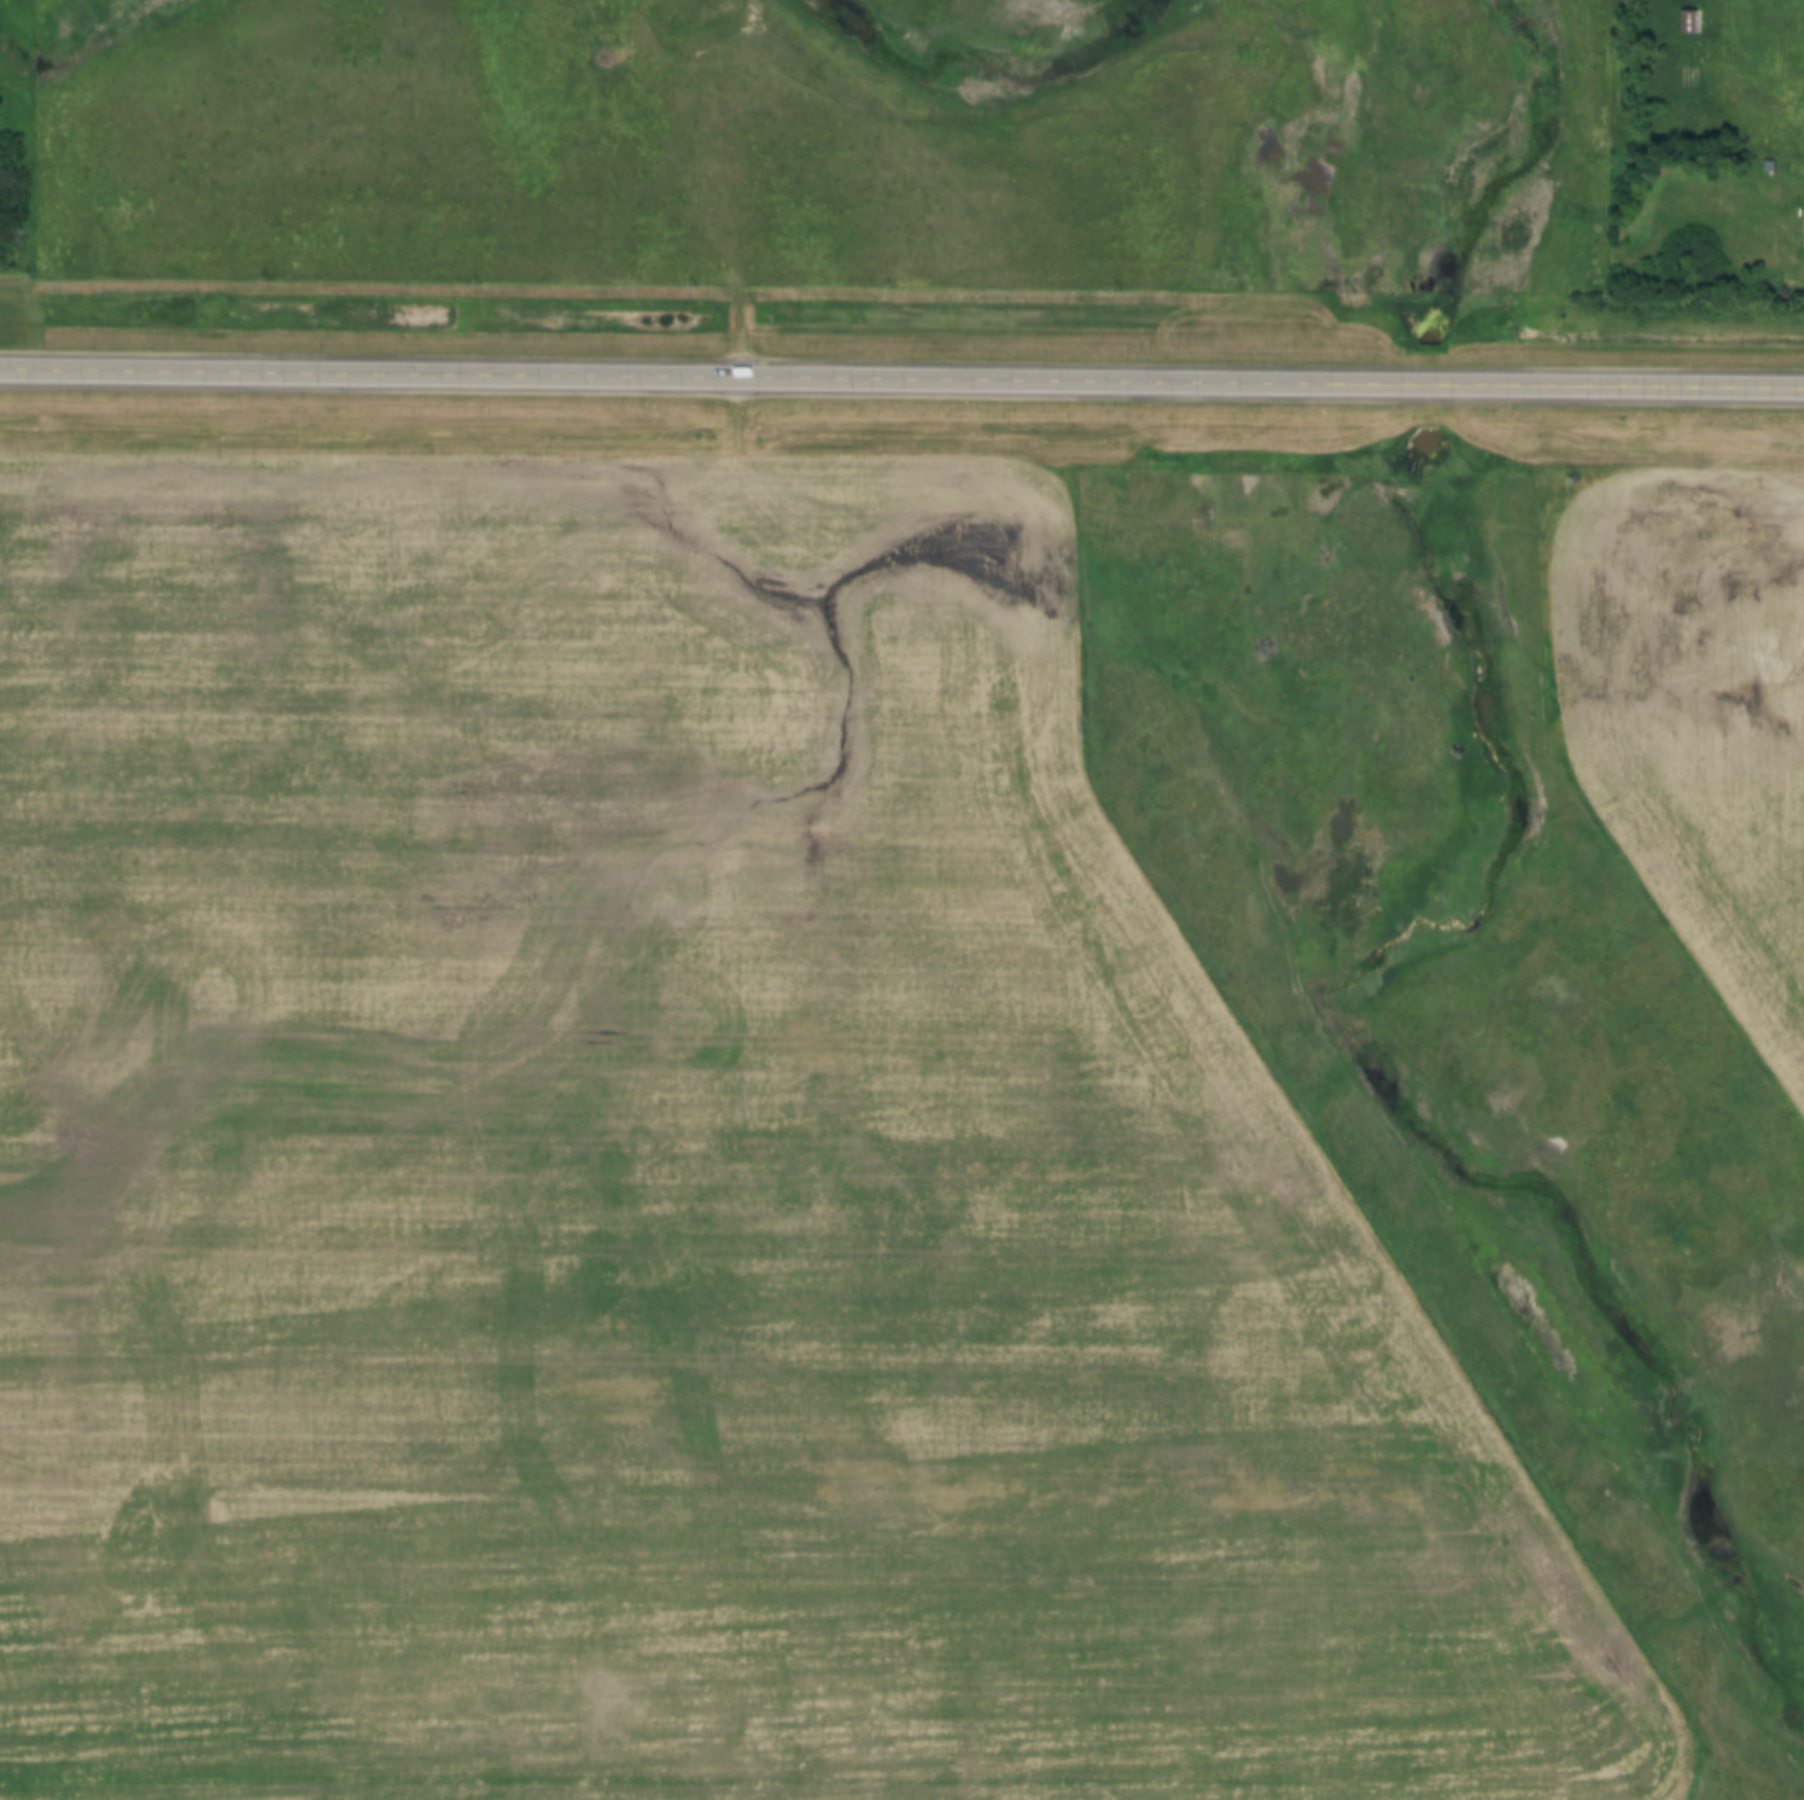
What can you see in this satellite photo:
building: (1686, 22)
building: (1767, 165)
road: (732, 211)
building: (1803, 227)
road: (901, 378)

